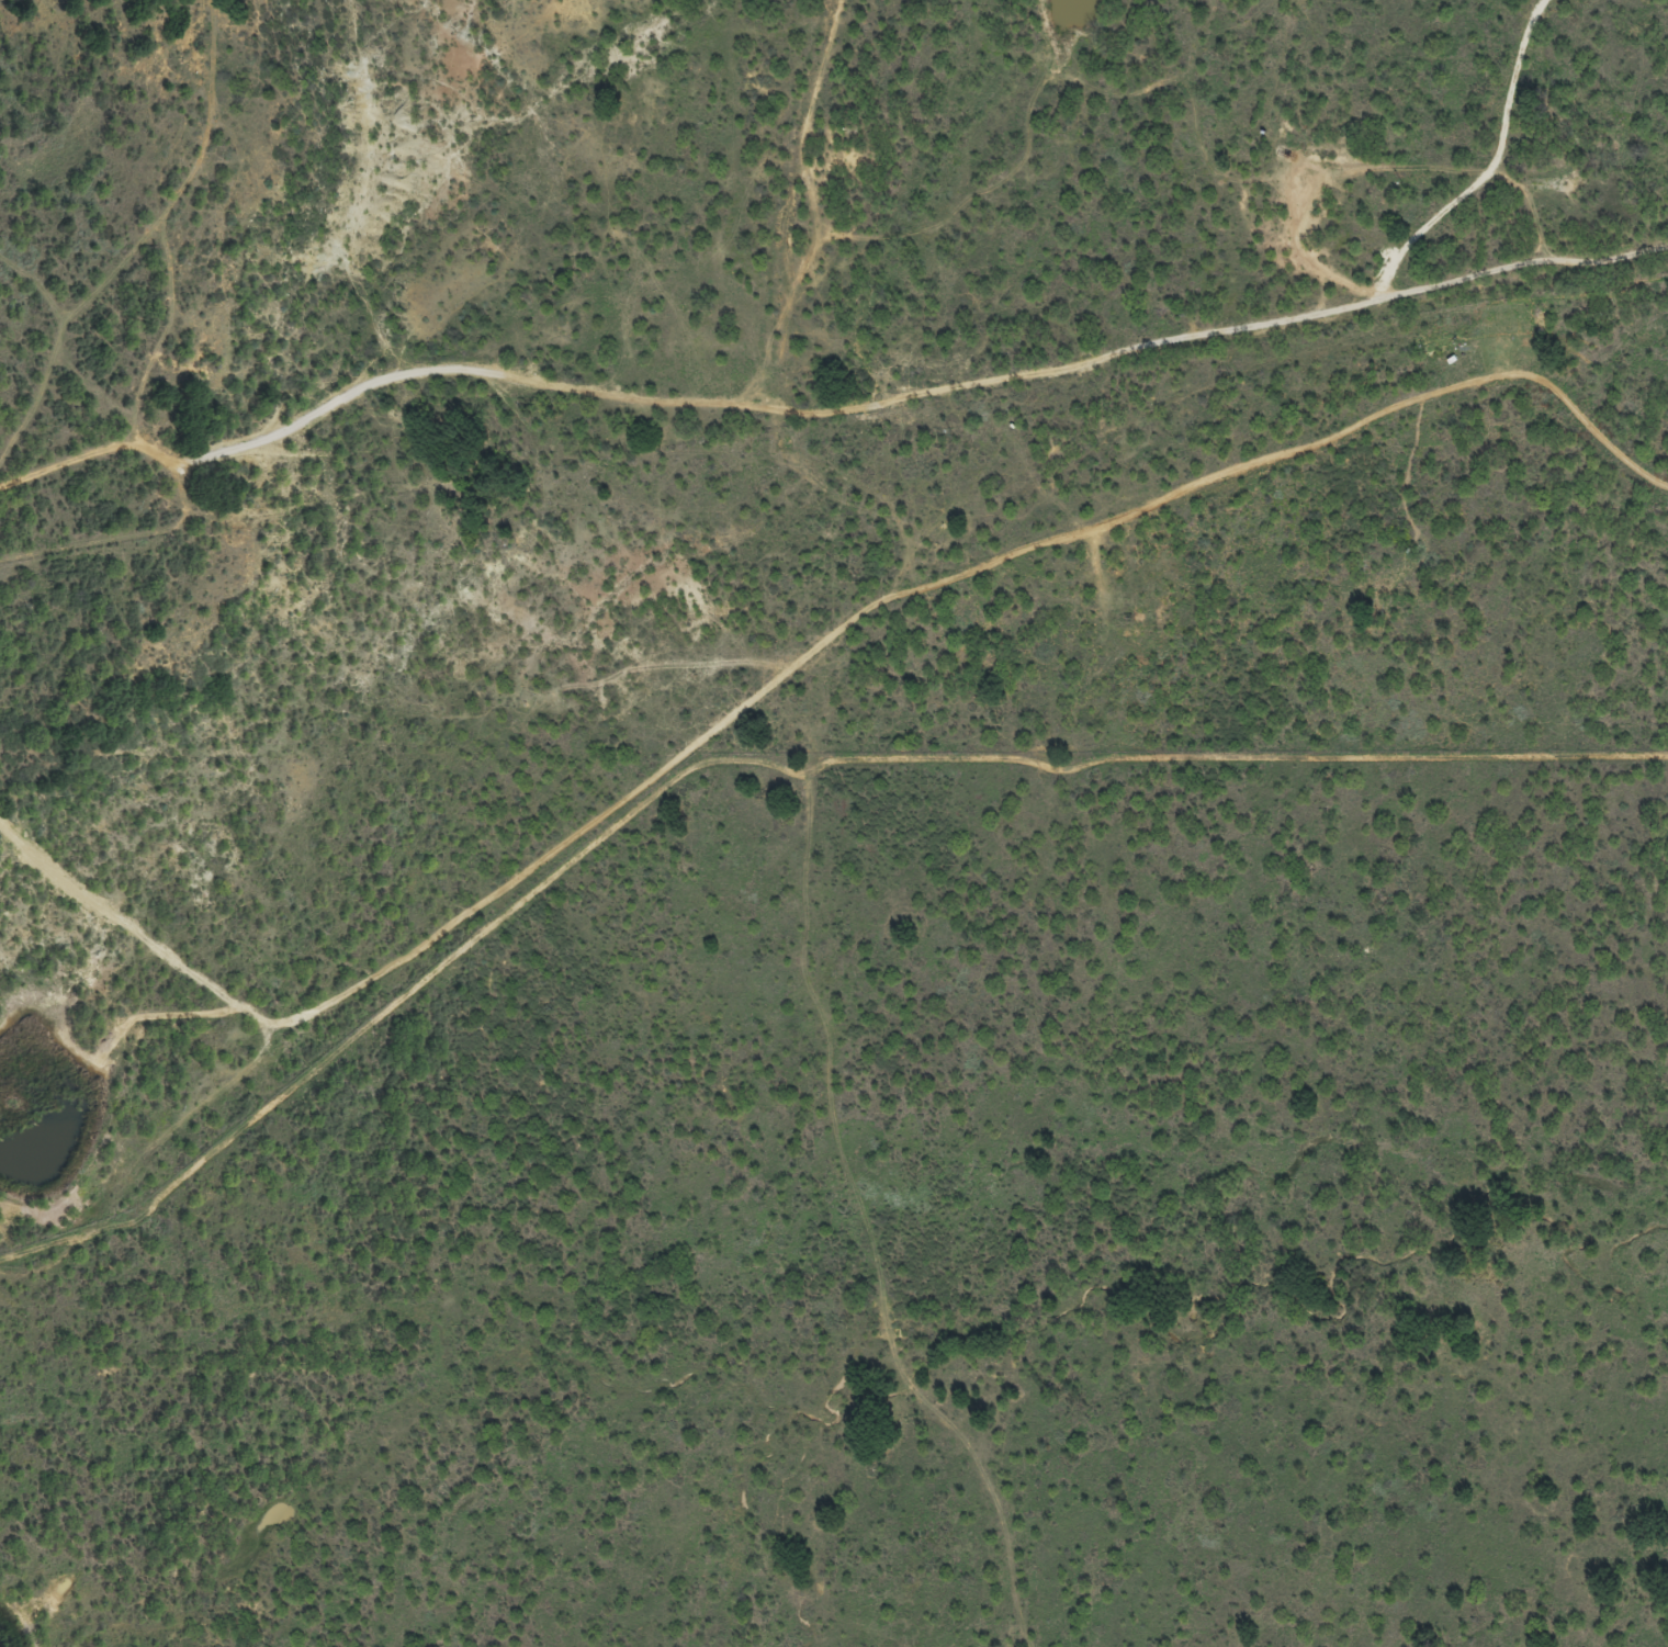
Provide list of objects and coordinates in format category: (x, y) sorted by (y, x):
road: (1491, 171)
road: (826, 419)

